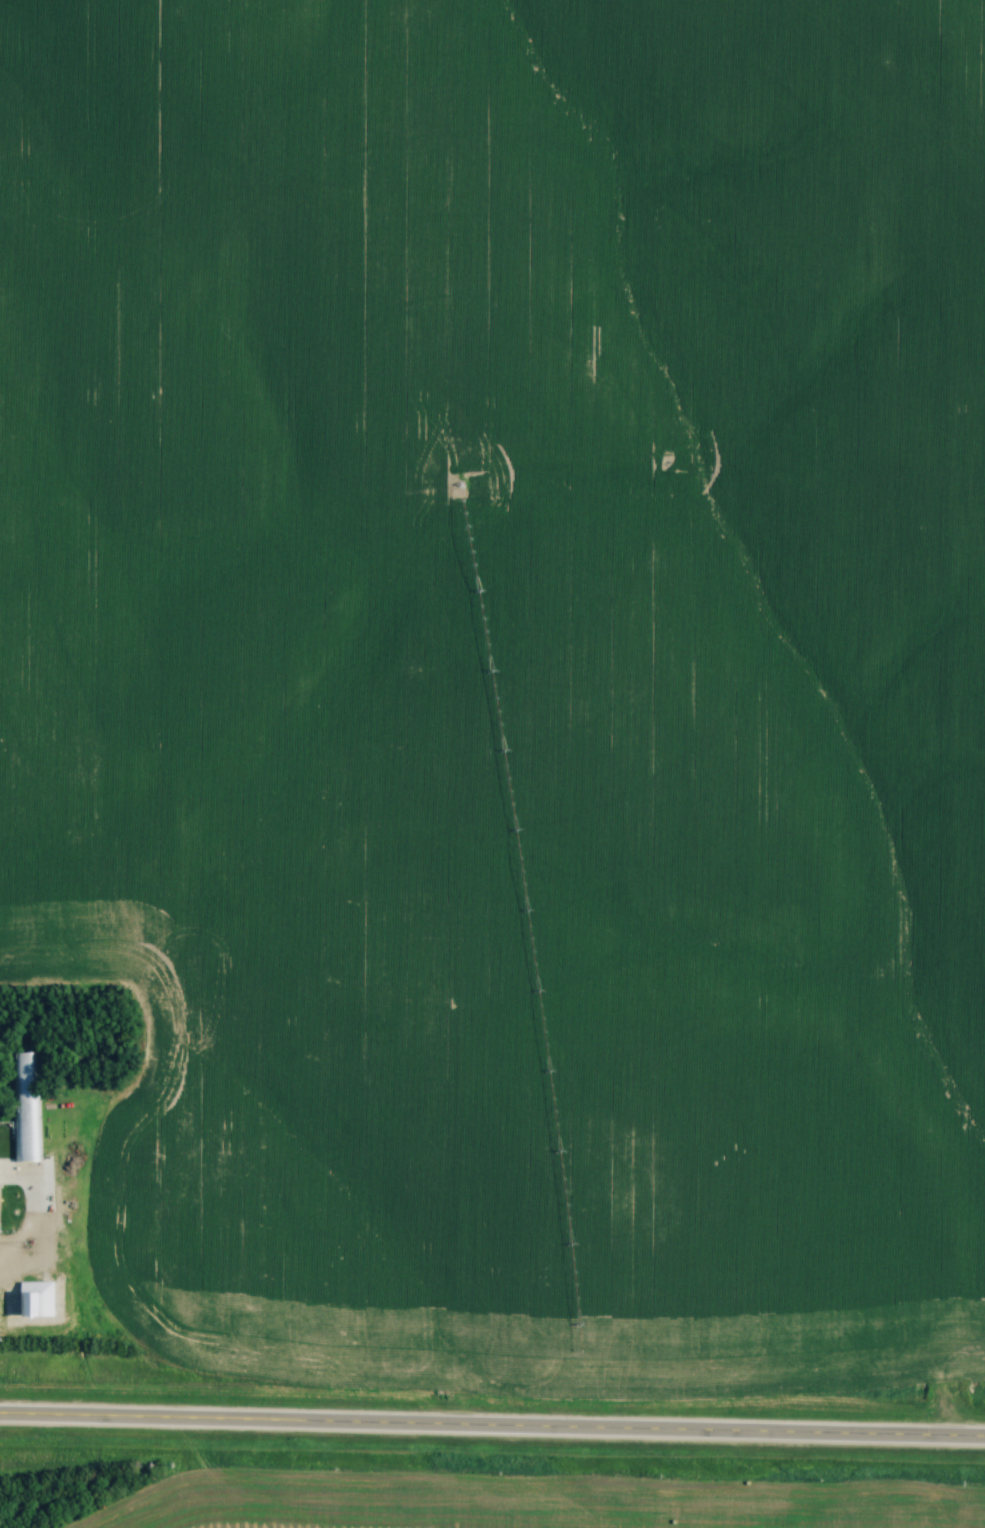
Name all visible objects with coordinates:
building: (25, 1110)
building: (88, 1121)
building: (86, 1147)
building: (79, 1175)
building: (121, 1187)
building: (0, 1191)
building: (40, 1299)
road: (492, 1430)

